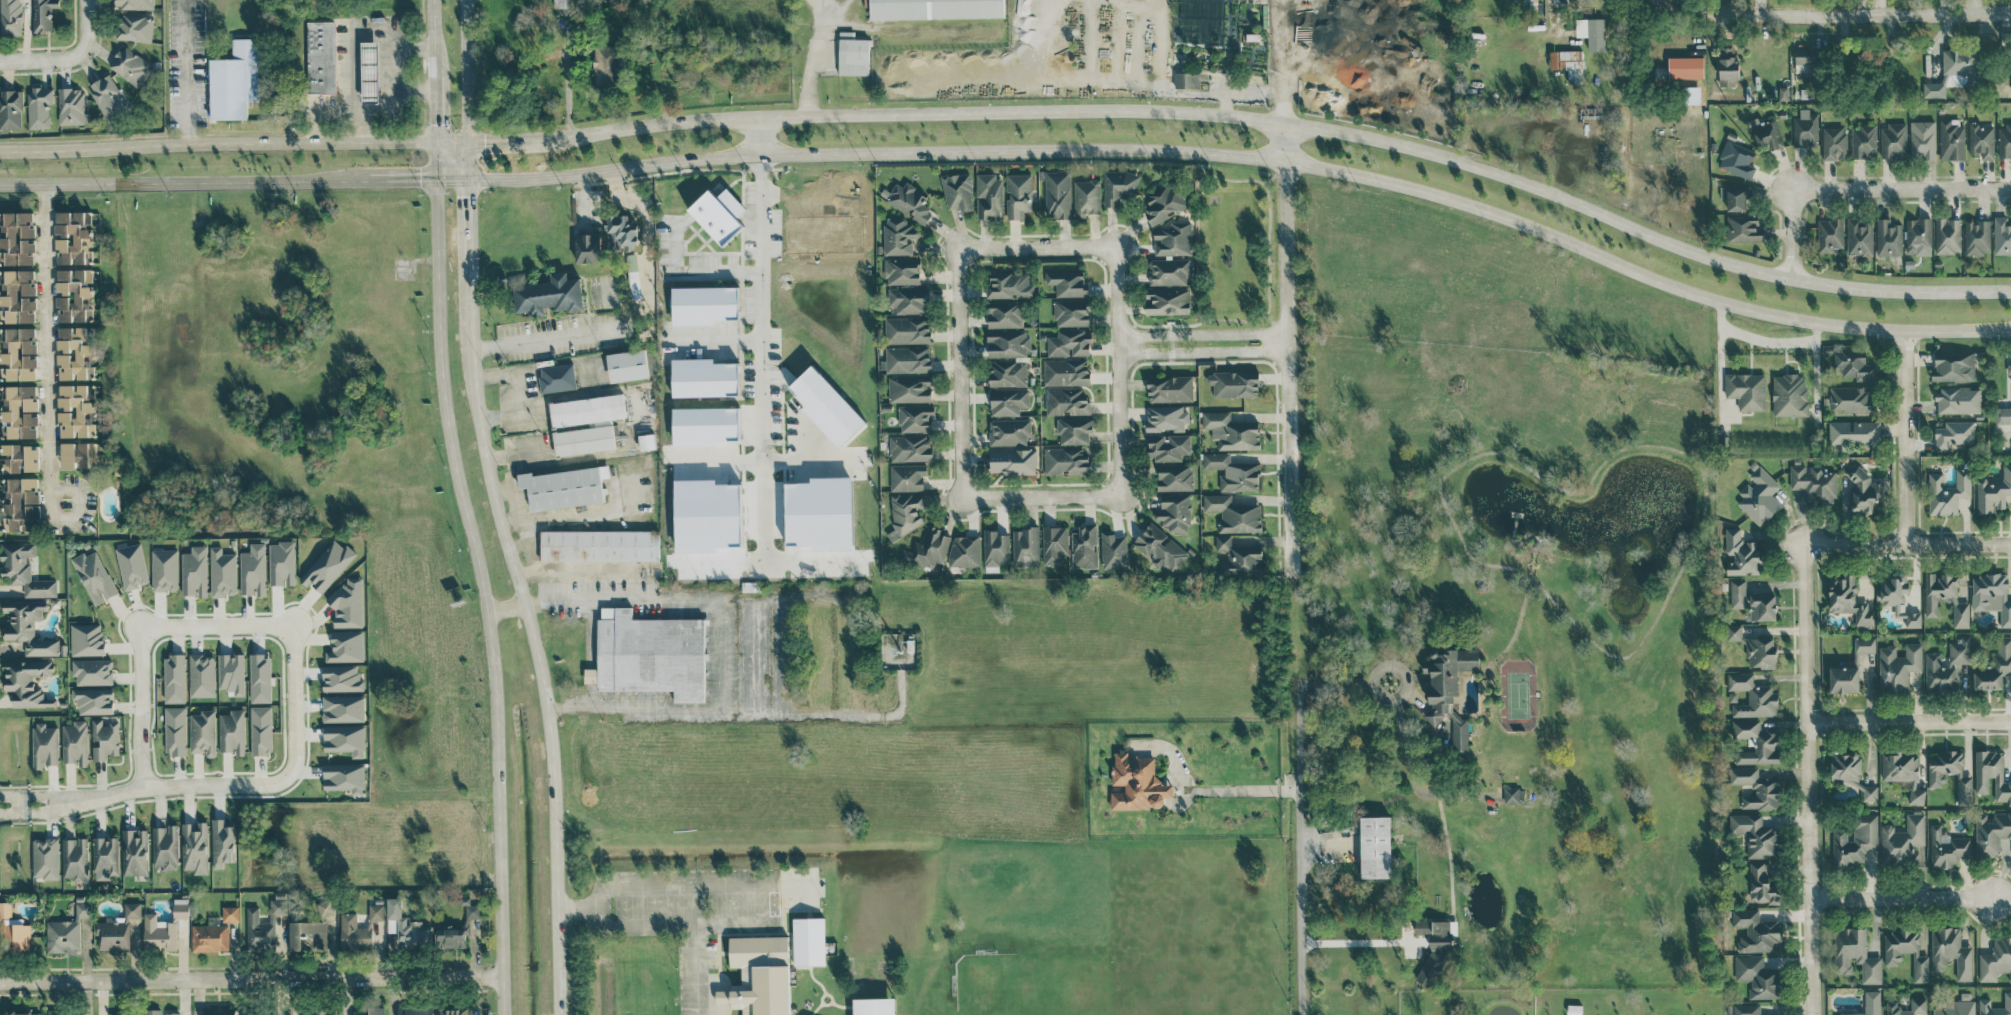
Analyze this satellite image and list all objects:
building: (132, 4)
road: (1759, 7)
building: (934, 9)
building: (41, 14)
road: (1867, 14)
building: (9, 17)
road: (90, 23)
road: (1559, 27)
building: (133, 28)
building: (1591, 32)
road: (430, 37)
road: (354, 47)
building: (851, 54)
building: (2007, 55)
building: (319, 56)
building: (1804, 57)
building: (1958, 60)
road: (1283, 61)
road: (49, 62)
building: (1566, 62)
building: (129, 65)
building: (601, 65)
building: (1684, 66)
building: (1726, 66)
building: (366, 71)
road: (188, 72)
road: (566, 72)
road: (809, 76)
road: (402, 79)
building: (1185, 79)
building: (232, 80)
road: (465, 89)
building: (1933, 89)
building: (106, 95)
building: (69, 105)
building: (38, 106)
road: (432, 108)
building: (10, 109)
road: (1017, 112)
building: (1804, 129)
building: (1764, 132)
road: (760, 137)
building: (1950, 138)
building: (1922, 139)
building: (1863, 140)
building: (1892, 140)
building: (1980, 140)
building: (2004, 140)
building: (1833, 142)
road: (1251, 158)
building: (1736, 159)
road: (1274, 175)
road: (399, 179)
road: (450, 179)
road: (182, 182)
building: (1118, 187)
road: (1857, 189)
building: (956, 191)
building: (1056, 194)
building: (987, 195)
building: (1018, 195)
building: (1734, 196)
building: (1086, 197)
building: (907, 201)
building: (1164, 203)
building: (715, 214)
road: (467, 218)
building: (1743, 228)
building: (618, 232)
building: (1829, 234)
building: (1947, 235)
building: (897, 236)
building: (1859, 236)
building: (1918, 236)
building: (1976, 236)
building: (2001, 236)
building: (15, 237)
building: (70, 237)
building: (1887, 237)
building: (1172, 239)
building: (585, 247)
building: (630, 261)
road: (695, 267)
building: (901, 271)
building: (1168, 271)
building: (1067, 283)
building: (1008, 285)
road: (1118, 291)
building: (71, 294)
building: (546, 295)
building: (16, 296)
building: (908, 300)
building: (1166, 301)
building: (701, 304)
building: (1070, 312)
building: (1003, 314)
road: (1254, 319)
road: (1276, 324)
road: (1159, 326)
building: (906, 330)
road: (1203, 334)
road: (547, 338)
road: (717, 339)
building: (1006, 343)
building: (1068, 343)
road: (1287, 348)
road: (46, 349)
building: (69, 353)
road: (1203, 353)
building: (17, 354)
road: (762, 357)
building: (906, 359)
road: (1720, 360)
building: (625, 365)
building: (1853, 365)
building: (1952, 367)
building: (2010, 368)
building: (1065, 371)
building: (1006, 373)
building: (555, 377)
building: (701, 377)
building: (1232, 383)
building: (908, 388)
building: (1168, 388)
building: (1746, 390)
building: (1789, 394)
building: (1851, 398)
building: (1957, 399)
building: (1007, 401)
building: (1066, 401)
building: (824, 406)
building: (72, 410)
building: (585, 410)
building: (18, 412)
building: (2003, 414)
building: (1165, 417)
building: (914, 418)
building: (680, 427)
building: (1073, 430)
road: (2006, 430)
building: (1008, 431)
building: (1230, 431)
building: (1853, 432)
building: (1953, 433)
road: (1906, 437)
building: (582, 440)
building: (645, 442)
building: (1167, 446)
building: (909, 448)
road: (960, 453)
building: (76, 455)
building: (19, 457)
building: (1012, 461)
building: (1066, 461)
road: (812, 465)
building: (1232, 472)
building: (907, 477)
building: (1174, 477)
building: (1813, 483)
building: (565, 487)
building: (1861, 491)
building: (1993, 491)
building: (1947, 492)
building: (1759, 496)
building: (22, 504)
building: (1174, 512)
building: (820, 513)
building: (907, 513)
building: (1234, 513)
building: (1054, 544)
road: (1908, 544)
building: (600, 545)
building: (1026, 546)
building: (1085, 546)
building: (1159, 547)
building: (996, 548)
building: (928, 549)
building: (1114, 550)
building: (965, 551)
building: (1740, 553)
building: (1238, 557)
building: (282, 563)
building: (328, 565)
building: (132, 566)
building: (24, 569)
building: (164, 569)
building: (253, 570)
building: (194, 571)
building: (222, 573)
building: (94, 576)
road: (476, 577)
building: (1739, 592)
building: (1992, 595)
building: (1898, 598)
building: (1848, 599)
building: (1931, 599)
building: (348, 604)
building: (1763, 607)
road: (503, 608)
road: (216, 626)
building: (28, 627)
road: (1294, 628)
building: (1734, 632)
road: (529, 634)
building: (87, 639)
road: (720, 643)
building: (346, 646)
building: (1761, 652)
building: (650, 654)
building: (1898, 666)
building: (1995, 666)
building: (1948, 667)
building: (92, 671)
building: (232, 673)
building: (202, 675)
building: (174, 678)
building: (260, 678)
building: (342, 678)
building: (1844, 679)
building: (27, 682)
road: (1345, 682)
building: (1448, 694)
building: (1752, 695)
building: (94, 700)
road: (139, 707)
building: (343, 708)
road: (1910, 722)
building: (175, 730)
building: (261, 730)
building: (203, 732)
building: (232, 732)
building: (105, 739)
building: (345, 739)
building: (1755, 741)
building: (75, 742)
building: (45, 745)
road: (1410, 762)
building: (1845, 767)
building: (1903, 772)
building: (1992, 774)
building: (344, 777)
road: (1810, 780)
building: (1936, 781)
building: (1138, 782)
road: (251, 783)
road: (1247, 788)
building: (1756, 788)
building: (1870, 793)
building: (1513, 795)
road: (14, 796)
road: (16, 803)
road: (62, 803)
road: (14, 811)
building: (1991, 832)
building: (1756, 835)
building: (1855, 840)
building: (1903, 841)
building: (222, 843)
building: (165, 846)
building: (195, 847)
building: (1375, 847)
road: (1299, 848)
building: (1947, 848)
building: (135, 852)
building: (106, 857)
building: (45, 858)
building: (75, 858)
building: (1761, 884)
road: (691, 889)
road: (1904, 899)
road: (2003, 899)
building: (325, 907)
building: (181, 908)
building: (230, 913)
building: (264, 923)
road: (660, 924)
building: (405, 925)
building: (458, 928)
building: (117, 929)
building: (359, 929)
building: (67, 930)
building: (12, 931)
building: (1756, 931)
building: (159, 932)
building: (308, 934)
building: (210, 937)
building: (809, 941)
road: (1345, 945)
building: (1434, 949)
building: (1951, 952)
building: (1855, 954)
building: (1892, 960)
building: (1996, 960)
road: (694, 969)
building: (759, 975)
building: (1758, 976)
road: (249, 978)
building: (1984, 1002)
building: (1870, 1003)
building: (1918, 1005)
building: (874, 1006)
building: (1958, 1006)
building: (1746, 1009)
building: (415, 1010)
building: (153, 1011)
building: (319, 1011)
building: (369, 1011)
building: (453, 1011)
building: (219, 1012)
building: (259, 1012)
building: (23, 1013)
building: (64, 1013)
building: (173, 1013)
building: (124, 1014)

